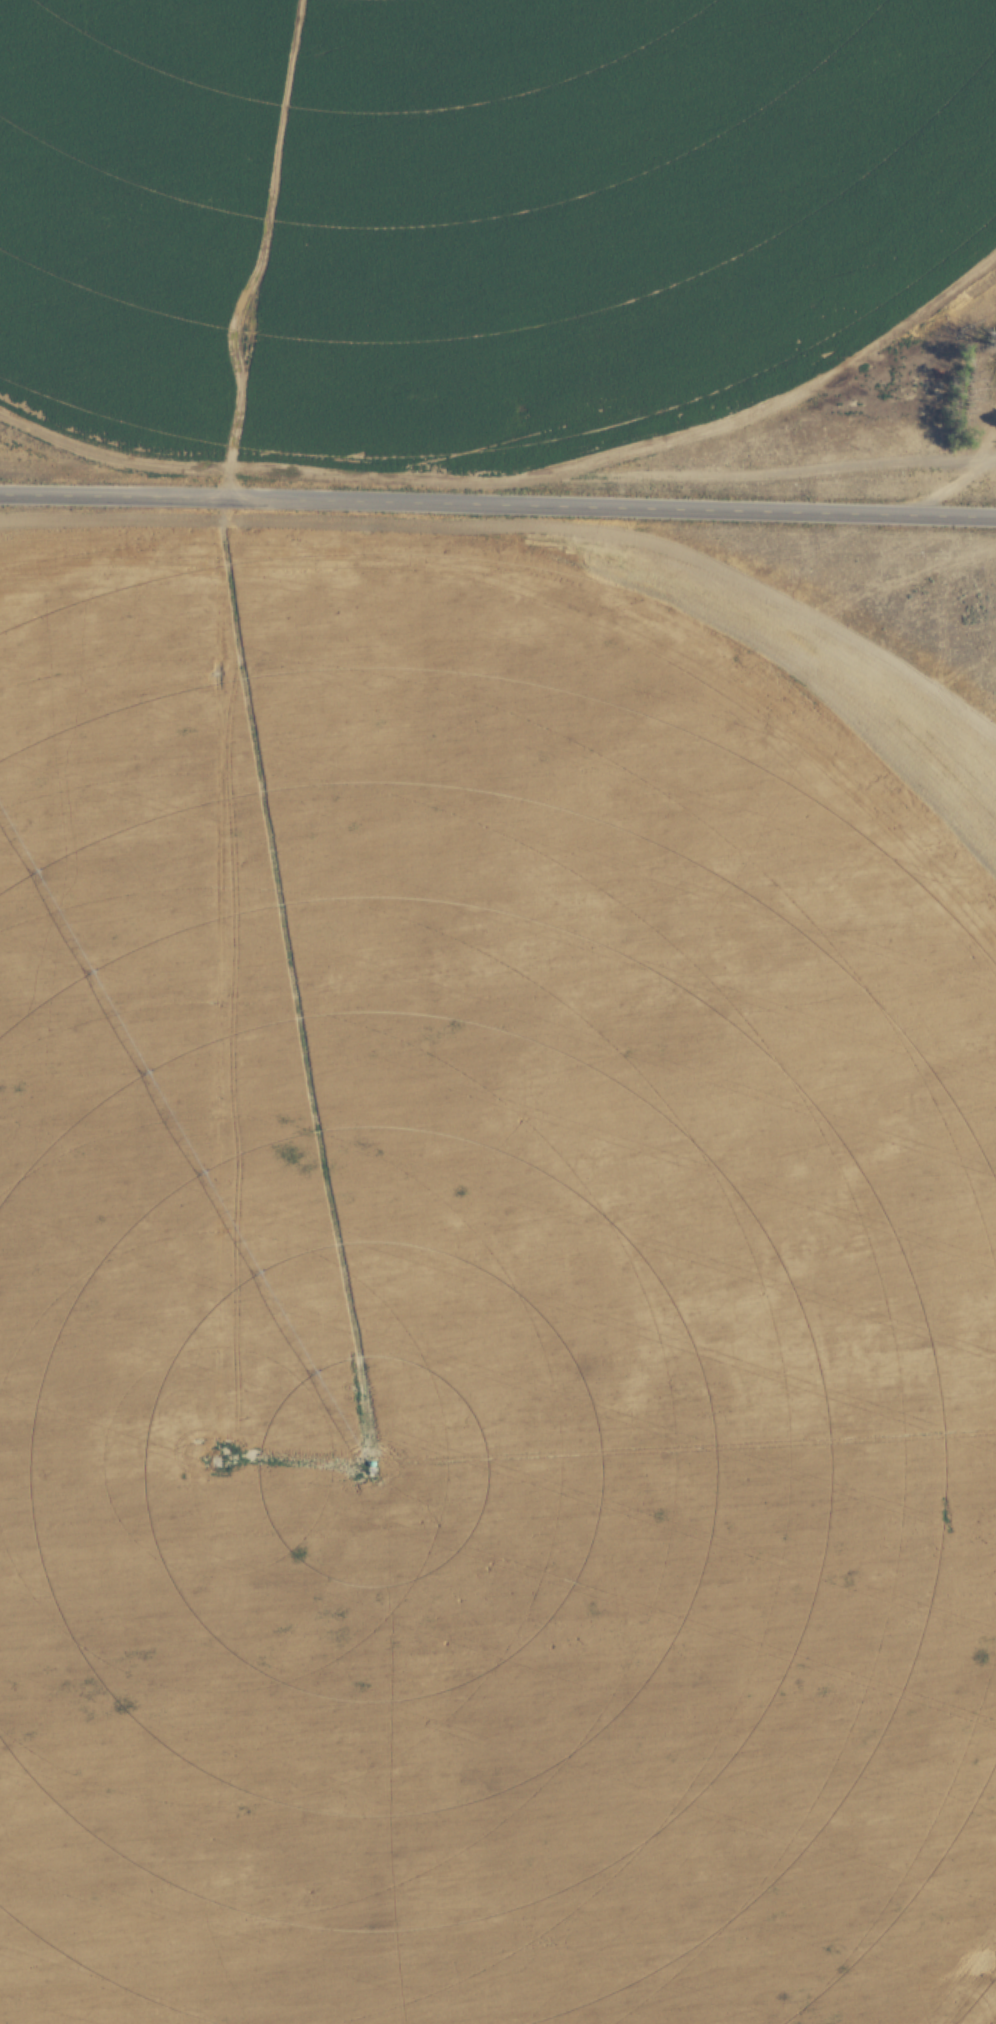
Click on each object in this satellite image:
crop: (468, 234)
crop: (485, 1345)

